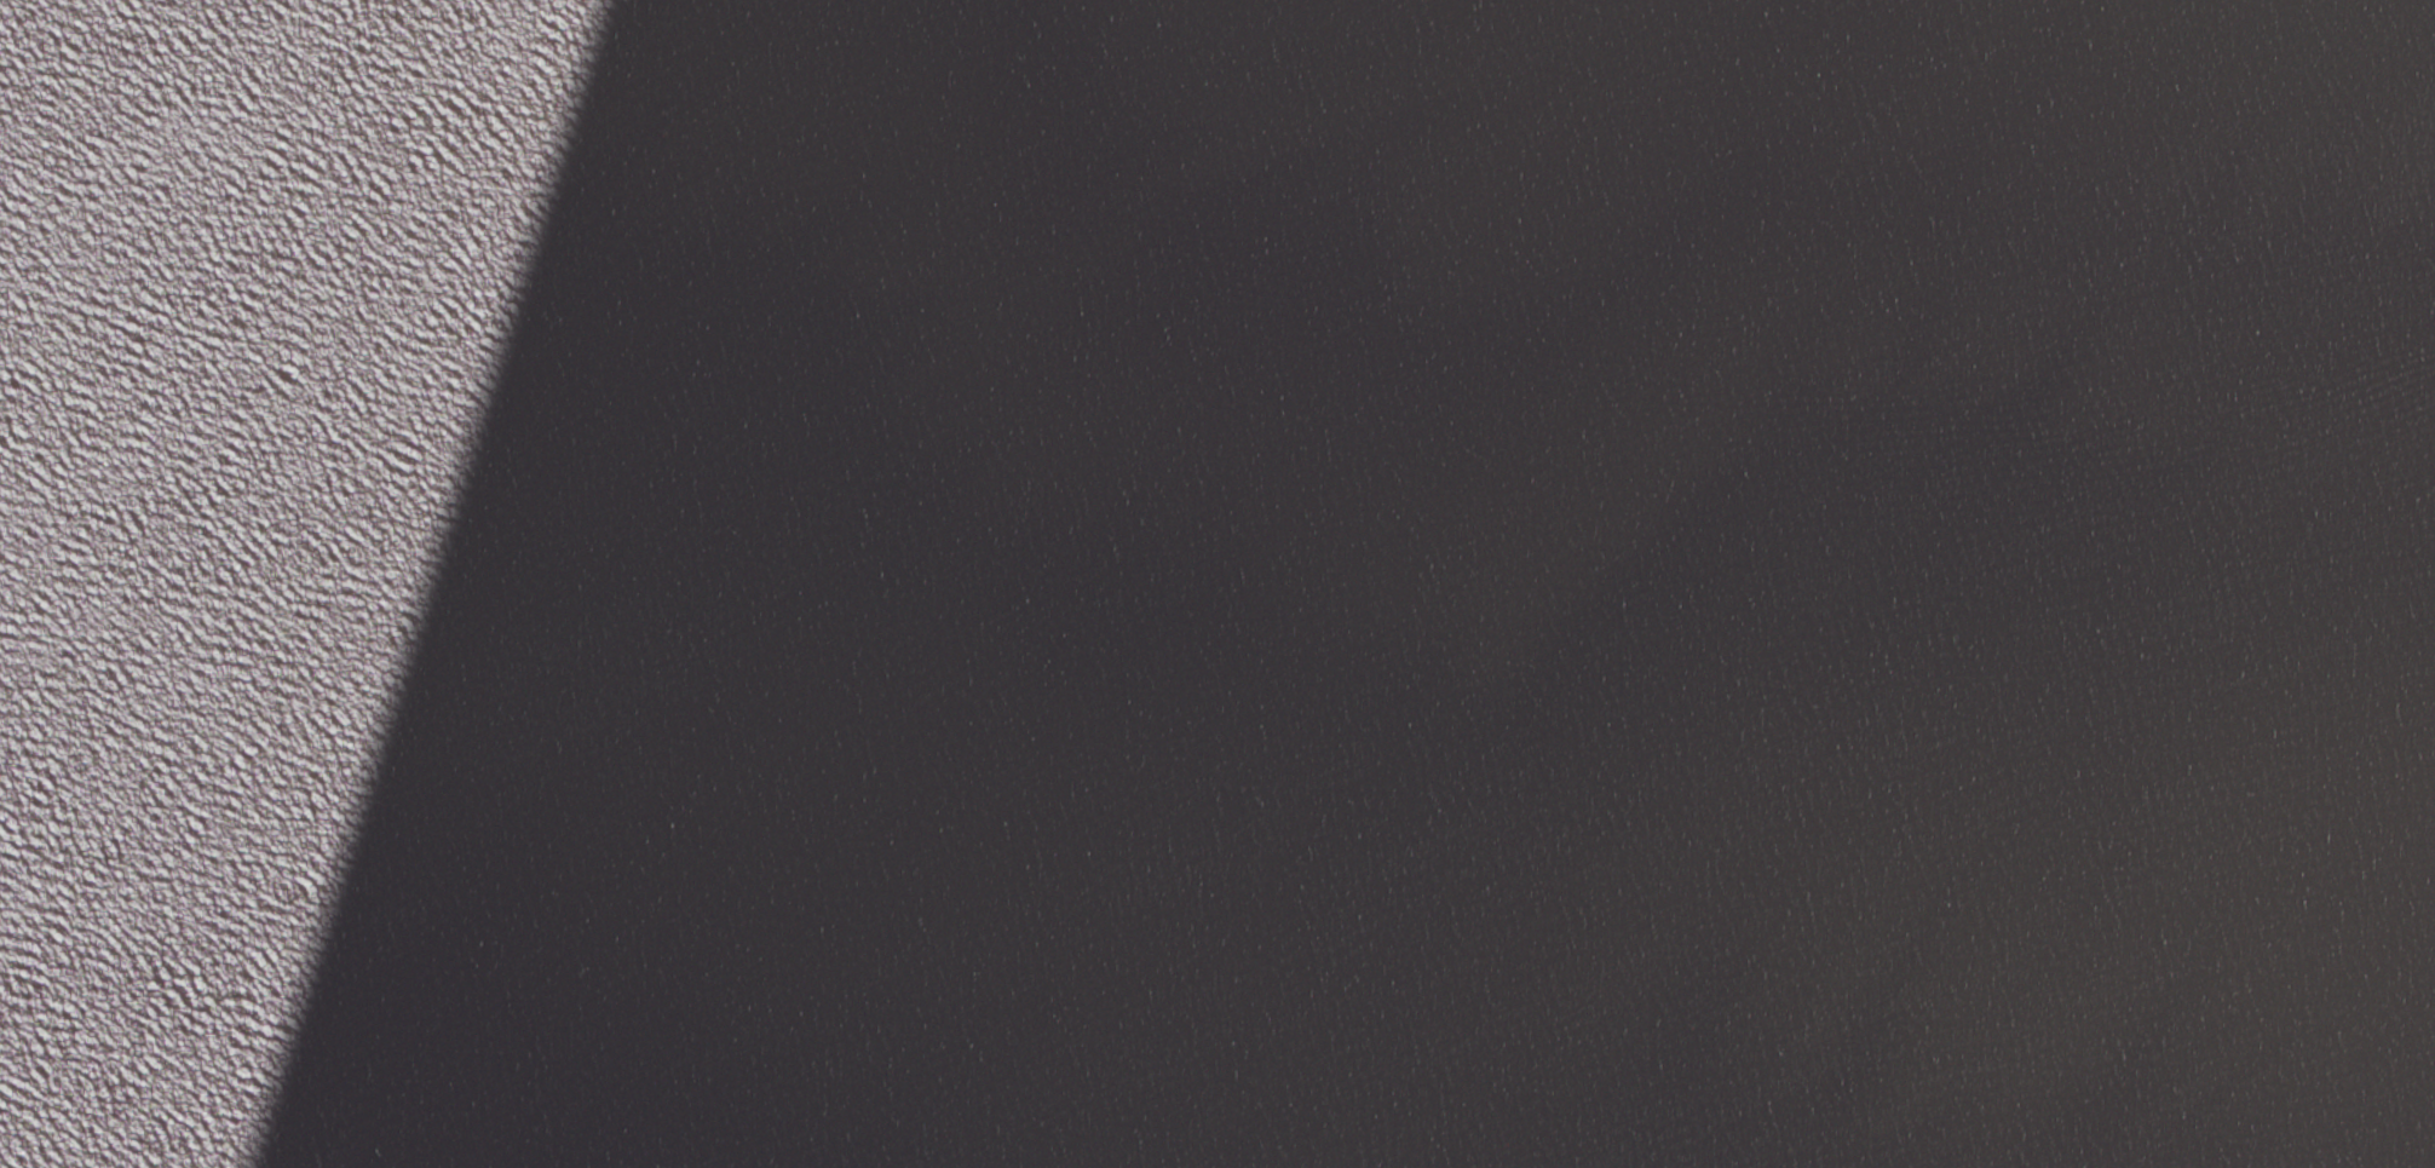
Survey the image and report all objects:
river: (2212, 996)

